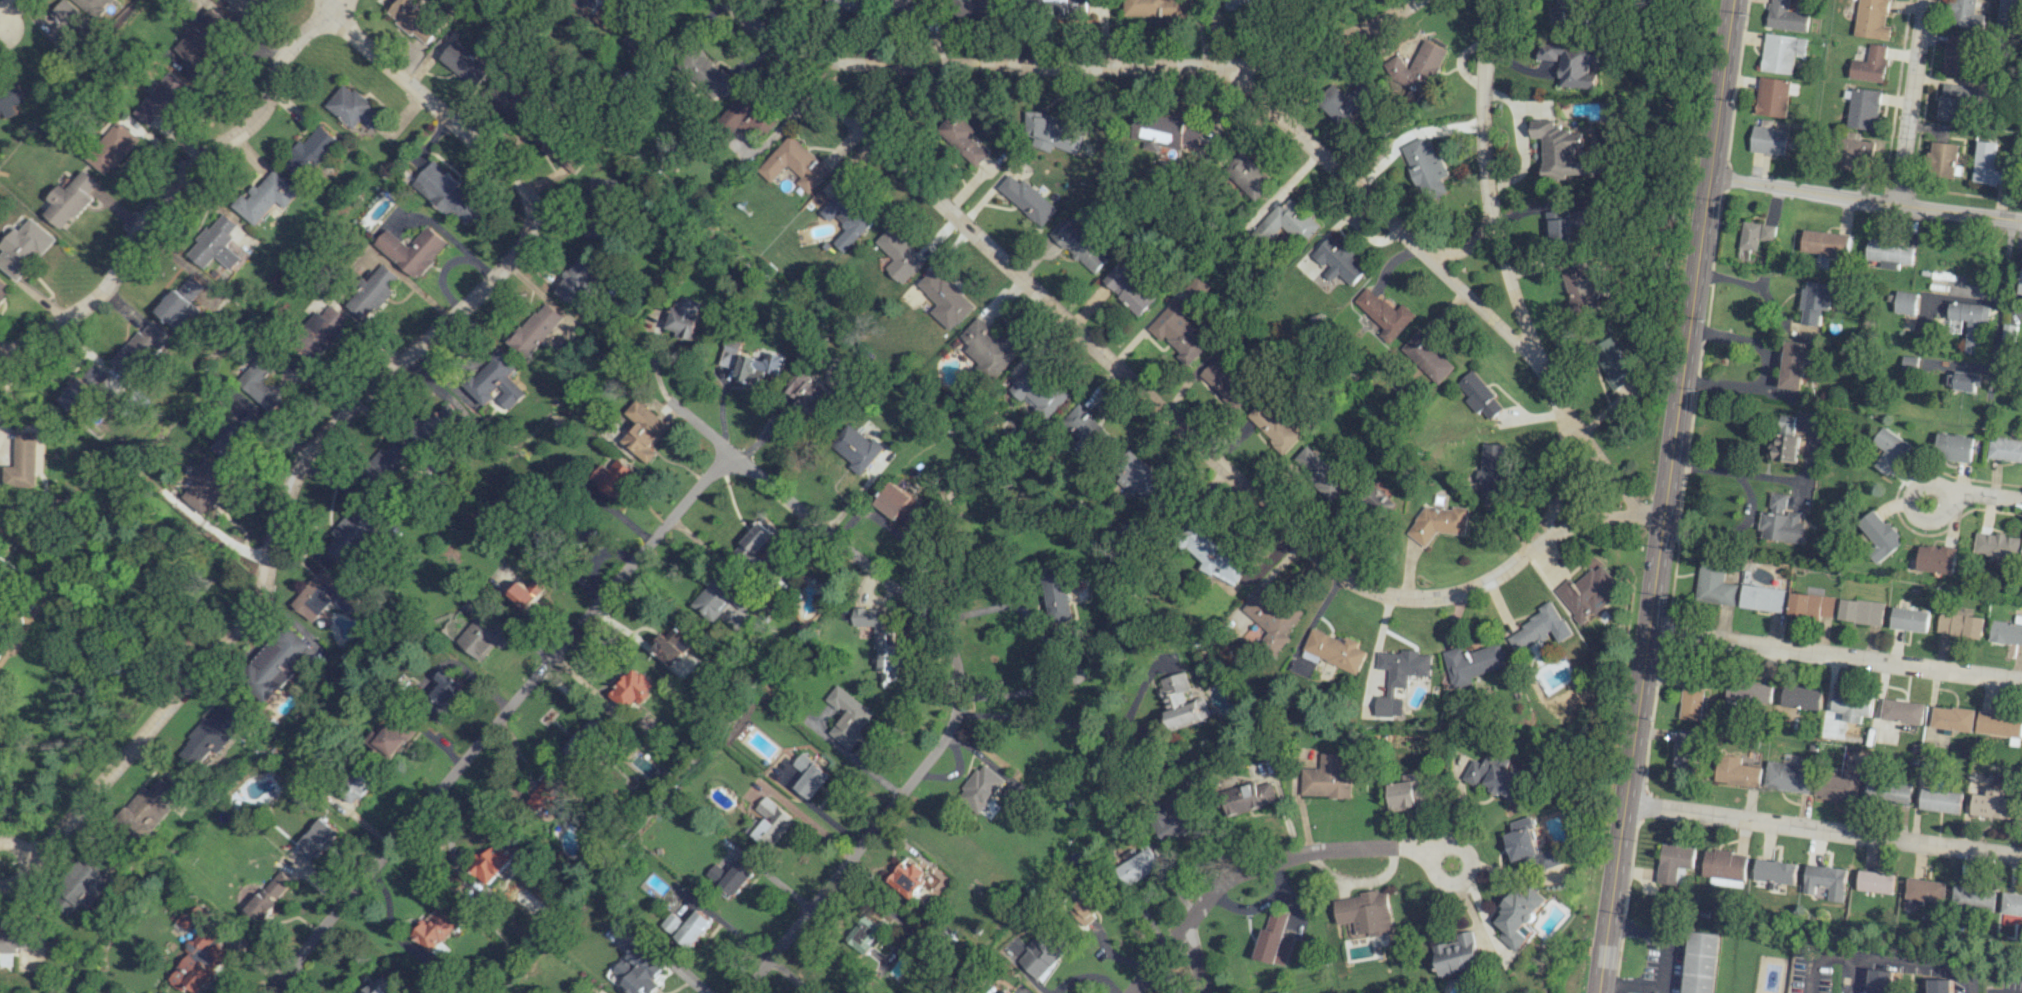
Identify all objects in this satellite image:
road: (728, 2)
building: (1245, 3)
building: (910, 4)
building: (855, 5)
building: (93, 6)
building: (243, 6)
building: (1065, 7)
building: (1153, 7)
building: (982, 8)
road: (8, 10)
building: (612, 12)
building: (1968, 13)
building: (2010, 13)
building: (1563, 15)
building: (1785, 17)
building: (414, 19)
building: (1872, 19)
building: (64, 22)
building: (203, 36)
building: (638, 41)
building: (1781, 52)
building: (1957, 55)
building: (465, 62)
road: (1109, 64)
building: (1571, 65)
building: (1870, 65)
building: (1415, 68)
building: (708, 74)
building: (1774, 96)
building: (162, 99)
building: (10, 100)
road: (428, 100)
building: (1954, 100)
building: (1344, 101)
road: (1910, 101)
building: (353, 108)
building: (1863, 108)
building: (749, 115)
building: (1047, 131)
building: (1172, 134)
building: (962, 138)
building: (1768, 139)
building: (113, 148)
building: (1561, 151)
building: (1856, 151)
building: (310, 153)
building: (1944, 159)
building: (795, 164)
building: (1989, 165)
building: (1423, 167)
building: (1246, 175)
road: (174, 182)
building: (602, 189)
building: (447, 194)
building: (265, 197)
road: (1863, 198)
building: (71, 199)
building: (1027, 199)
road: (1540, 206)
road: (1378, 211)
building: (848, 218)
building: (1284, 222)
building: (1563, 225)
building: (1755, 234)
building: (1824, 243)
building: (216, 244)
building: (1081, 245)
road: (1464, 246)
building: (25, 248)
building: (411, 249)
building: (1888, 254)
building: (900, 256)
building: (1337, 261)
road: (1505, 271)
building: (2020, 282)
building: (578, 284)
road: (1757, 286)
building: (191, 287)
building: (1130, 289)
building: (1580, 289)
building: (371, 292)
road: (2002, 297)
building: (946, 299)
building: (1814, 301)
building: (1905, 302)
building: (177, 310)
building: (1382, 312)
building: (683, 318)
building: (1967, 321)
building: (534, 329)
building: (1179, 332)
building: (2008, 332)
building: (322, 333)
building: (988, 346)
building: (140, 349)
building: (731, 352)
building: (1425, 356)
building: (1611, 362)
building: (1793, 365)
road: (1767, 366)
building: (759, 367)
building: (95, 374)
building: (1027, 377)
building: (1962, 381)
building: (260, 382)
building: (1223, 382)
building: (492, 384)
building: (809, 391)
road: (8, 394)
building: (78, 395)
building: (1479, 396)
building: (1048, 399)
road: (1160, 404)
building: (439, 422)
road: (701, 427)
building: (1273, 427)
building: (1084, 428)
building: (644, 430)
building: (241, 434)
building: (1786, 440)
building: (1953, 447)
building: (858, 448)
building: (2005, 449)
building: (1890, 450)
building: (23, 463)
building: (385, 463)
building: (1490, 470)
building: (1318, 472)
road: (1736, 474)
building: (614, 476)
road: (1559, 476)
road: (1925, 480)
building: (1138, 481)
building: (207, 486)
road: (1663, 496)
road: (1985, 497)
building: (899, 503)
building: (1438, 521)
building: (1780, 521)
road: (277, 523)
building: (350, 534)
road: (895, 534)
building: (1880, 535)
building: (755, 539)
building: (1997, 545)
building: (1937, 559)
building: (1713, 583)
road: (615, 586)
park: (86, 587)
road: (44, 588)
building: (1587, 592)
building: (527, 593)
building: (1056, 594)
building: (324, 596)
building: (1761, 598)
building: (1810, 604)
road: (14, 609)
building: (1860, 611)
building: (1271, 618)
building: (1909, 619)
building: (1959, 625)
building: (1536, 627)
building: (2006, 631)
building: (482, 637)
building: (880, 643)
building: (673, 645)
road: (1048, 646)
building: (1334, 649)
road: (1834, 656)
building: (275, 662)
building: (1473, 663)
building: (1398, 675)
building: (446, 687)
building: (632, 688)
building: (1749, 692)
building: (1802, 697)
building: (1691, 700)
building: (1182, 702)
building: (1852, 705)
building: (1902, 711)
building: (847, 717)
building: (1952, 718)
road: (1048, 724)
building: (1999, 724)
building: (210, 734)
building: (391, 738)
building: (584, 742)
building: (1686, 751)
road: (855, 759)
building: (1736, 771)
building: (1790, 775)
building: (808, 776)
building: (1327, 777)
building: (1495, 777)
building: (661, 781)
building: (358, 782)
building: (1839, 786)
building: (979, 788)
building: (1889, 791)
building: (547, 793)
building: (1408, 793)
building: (1247, 797)
building: (1994, 799)
building: (1941, 800)
building: (147, 809)
building: (1175, 821)
building: (768, 822)
road: (1822, 831)
building: (1521, 839)
building: (316, 840)
road: (1355, 847)
road: (846, 853)
building: (1552, 858)
road: (27, 861)
building: (492, 861)
building: (1674, 862)
building: (1137, 866)
building: (1725, 867)
building: (1774, 871)
building: (736, 878)
building: (910, 878)
building: (1823, 882)
building: (1874, 882)
building: (79, 889)
building: (1924, 890)
building: (270, 895)
building: (1972, 897)
building: (2011, 904)
building: (1085, 907)
building: (1366, 913)
building: (1518, 916)
building: (184, 921)
road: (725, 925)
building: (687, 927)
building: (434, 929)
building: (866, 933)
building: (1272, 939)
building: (12, 944)
building: (1040, 953)
building: (1457, 955)
road: (1820, 955)
road: (1156, 959)
road: (1192, 959)
building: (200, 961)
road: (666, 961)
road: (1663, 961)
building: (1701, 962)
road: (1906, 962)
building: (639, 971)
road: (790, 974)
building: (1879, 981)
building: (382, 985)
road: (284, 986)
building: (1940, 986)
building: (1002, 991)
building: (1279, 992)

